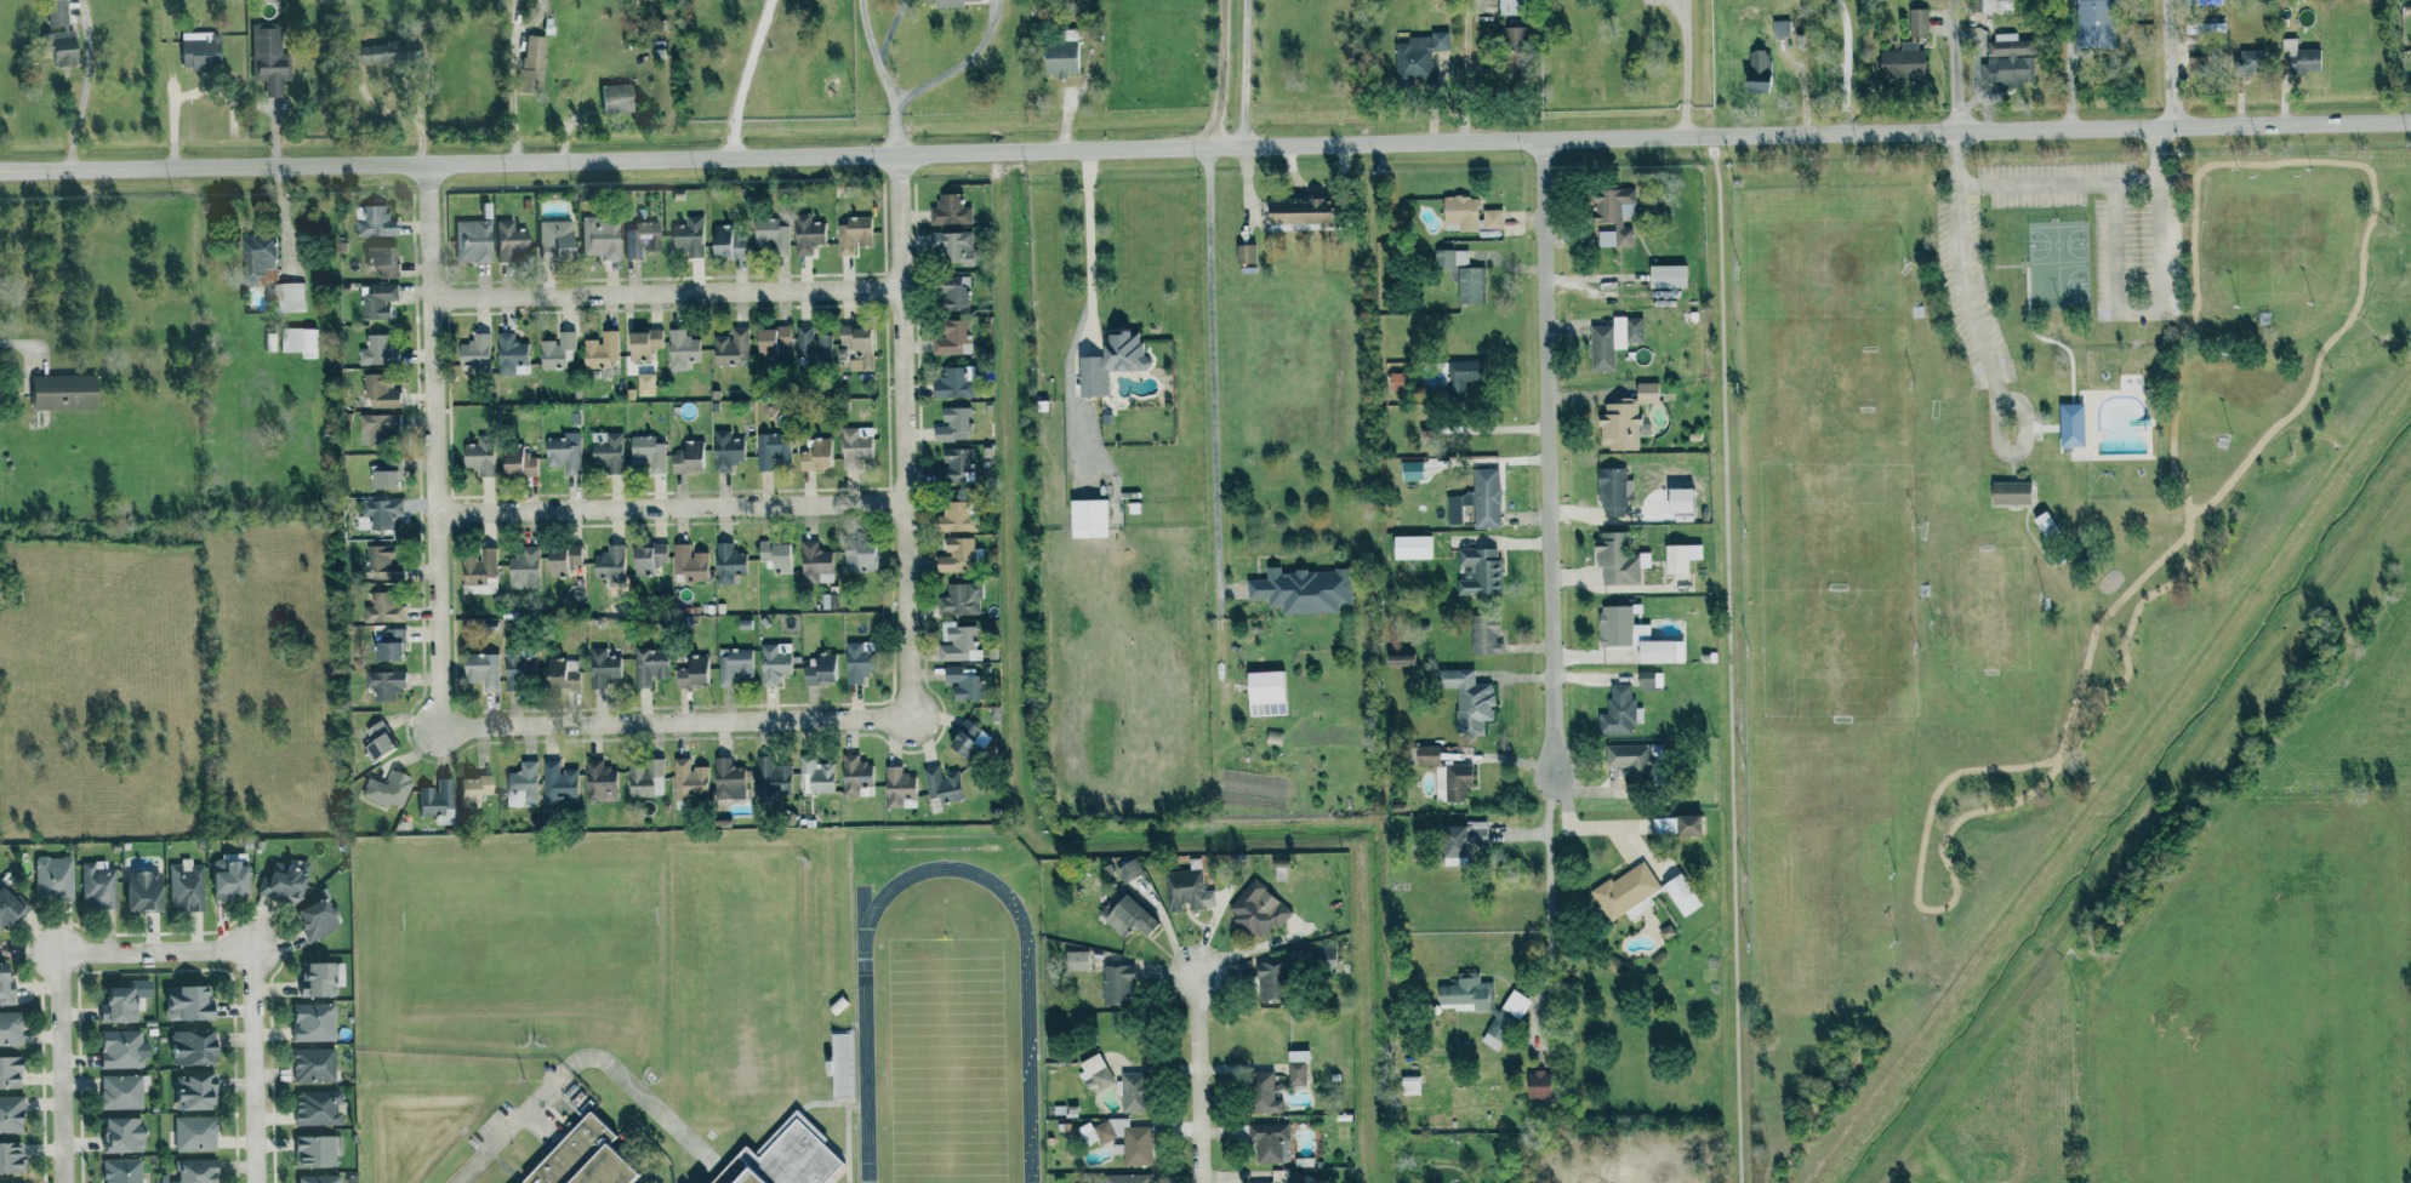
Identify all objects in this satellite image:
building: (944, 2)
building: (1984, 6)
building: (1507, 7)
building: (53, 12)
building: (1916, 22)
building: (2092, 23)
building: (1779, 28)
building: (2213, 28)
building: (57, 48)
building: (403, 50)
building: (1512, 51)
building: (198, 52)
road: (874, 53)
building: (1417, 56)
building: (2247, 61)
building: (2302, 61)
building: (268, 62)
building: (1902, 62)
building: (2007, 62)
building: (530, 64)
road: (961, 64)
road: (2173, 64)
road: (1846, 65)
road: (1953, 65)
road: (1685, 68)
building: (1756, 72)
road: (1216, 73)
road: (1243, 73)
road: (746, 78)
road: (81, 96)
building: (611, 98)
road: (895, 130)
road: (1205, 147)
road: (2086, 183)
building: (948, 211)
building: (1296, 212)
building: (1467, 215)
building: (1612, 215)
building: (372, 222)
building: (805, 234)
building: (853, 234)
building: (770, 235)
building: (688, 236)
building: (598, 238)
building: (642, 239)
building: (553, 240)
building: (471, 241)
building: (508, 241)
building: (725, 242)
building: (952, 246)
road: (1088, 251)
building: (1244, 253)
building: (256, 256)
building: (1450, 258)
building: (381, 262)
building: (1665, 276)
road: (1962, 279)
building: (1469, 285)
road: (666, 293)
building: (952, 293)
building: (287, 297)
building: (380, 299)
road: (2138, 309)
building: (950, 337)
building: (770, 341)
building: (1612, 341)
building: (300, 342)
road: (8, 343)
building: (643, 343)
building: (855, 347)
building: (730, 348)
building: (811, 348)
building: (599, 349)
building: (679, 350)
building: (376, 352)
building: (555, 352)
building: (473, 353)
building: (511, 355)
building: (1108, 362)
road: (1210, 367)
building: (1459, 381)
building: (1396, 382)
building: (951, 384)
building: (377, 392)
building: (59, 393)
building: (1623, 418)
building: (952, 424)
building: (2070, 425)
building: (377, 428)
road: (902, 436)
road: (434, 445)
building: (605, 451)
building: (724, 451)
building: (563, 452)
building: (771, 452)
building: (646, 453)
building: (478, 456)
building: (814, 456)
building: (688, 457)
building: (515, 462)
building: (953, 464)
road: (1551, 465)
building: (382, 467)
building: (1410, 470)
building: (382, 480)
building: (1612, 492)
building: (2008, 493)
building: (1477, 501)
road: (669, 508)
building: (381, 513)
building: (1649, 514)
building: (956, 518)
building: (1087, 519)
building: (2045, 525)
building: (1412, 548)
building: (957, 555)
building: (776, 556)
building: (377, 558)
building: (1680, 558)
building: (646, 559)
building: (860, 559)
building: (1617, 560)
building: (560, 561)
building: (609, 561)
building: (814, 561)
building: (688, 562)
building: (726, 564)
building: (478, 567)
building: (523, 568)
building: (1478, 572)
building: (1303, 590)
building: (959, 600)
building: (382, 607)
building: (1618, 628)
building: (1484, 635)
building: (957, 641)
building: (389, 645)
building: (1660, 652)
building: (1400, 659)
building: (773, 662)
building: (855, 662)
building: (733, 664)
building: (515, 665)
building: (649, 665)
building: (600, 667)
building: (820, 668)
building: (480, 669)
building: (691, 671)
building: (559, 673)
building: (1648, 681)
building: (383, 682)
building: (962, 682)
building: (1265, 692)
building: (1466, 699)
building: (1617, 711)
road: (676, 724)
building: (376, 739)
building: (958, 742)
building: (1426, 754)
road: (1507, 759)
building: (1629, 760)
building: (816, 773)
building: (773, 775)
building: (854, 775)
building: (726, 778)
building: (646, 779)
building: (599, 781)
building: (689, 782)
building: (1452, 782)
building: (521, 783)
building: (557, 783)
building: (941, 784)
building: (897, 785)
building: (386, 789)
building: (471, 789)
building: (435, 800)
building: (1686, 824)
building: (1459, 840)
building: (1128, 870)
building: (51, 876)
building: (224, 878)
building: (280, 881)
road: (1548, 882)
building: (96, 885)
building: (183, 885)
building: (138, 890)
building: (1187, 890)
building: (1626, 892)
building: (1681, 895)
building: (10, 907)
building: (1258, 909)
building: (1127, 915)
building: (312, 919)
building: (1665, 932)
building: (1322, 956)
building: (1075, 960)
road: (253, 967)
building: (319, 977)
building: (1116, 983)
building: (5, 990)
building: (1465, 993)
building: (118, 1002)
building: (1515, 1004)
building: (310, 1022)
building: (8, 1028)
building: (1494, 1034)
building: (187, 1046)
building: (118, 1048)
road: (1205, 1063)
building: (310, 1064)
road: (58, 1065)
track: (1027, 1067)
building: (1296, 1068)
building: (8, 1070)
building: (1094, 1071)
building: (1409, 1085)
building: (1537, 1085)
building: (190, 1091)
building: (1130, 1091)
building: (118, 1092)
building: (1263, 1092)
building: (314, 1108)
building: (8, 1113)
building: (193, 1132)
building: (118, 1133)
building: (1269, 1141)
building: (1135, 1142)
road: (489, 1145)
building: (312, 1150)
building: (8, 1156)
building: (581, 1159)
building: (783, 1159)
building: (119, 1171)
building: (193, 1171)
building: (1295, 1177)
building: (314, 1178)
building: (1124, 1178)
building: (1265, 1182)

